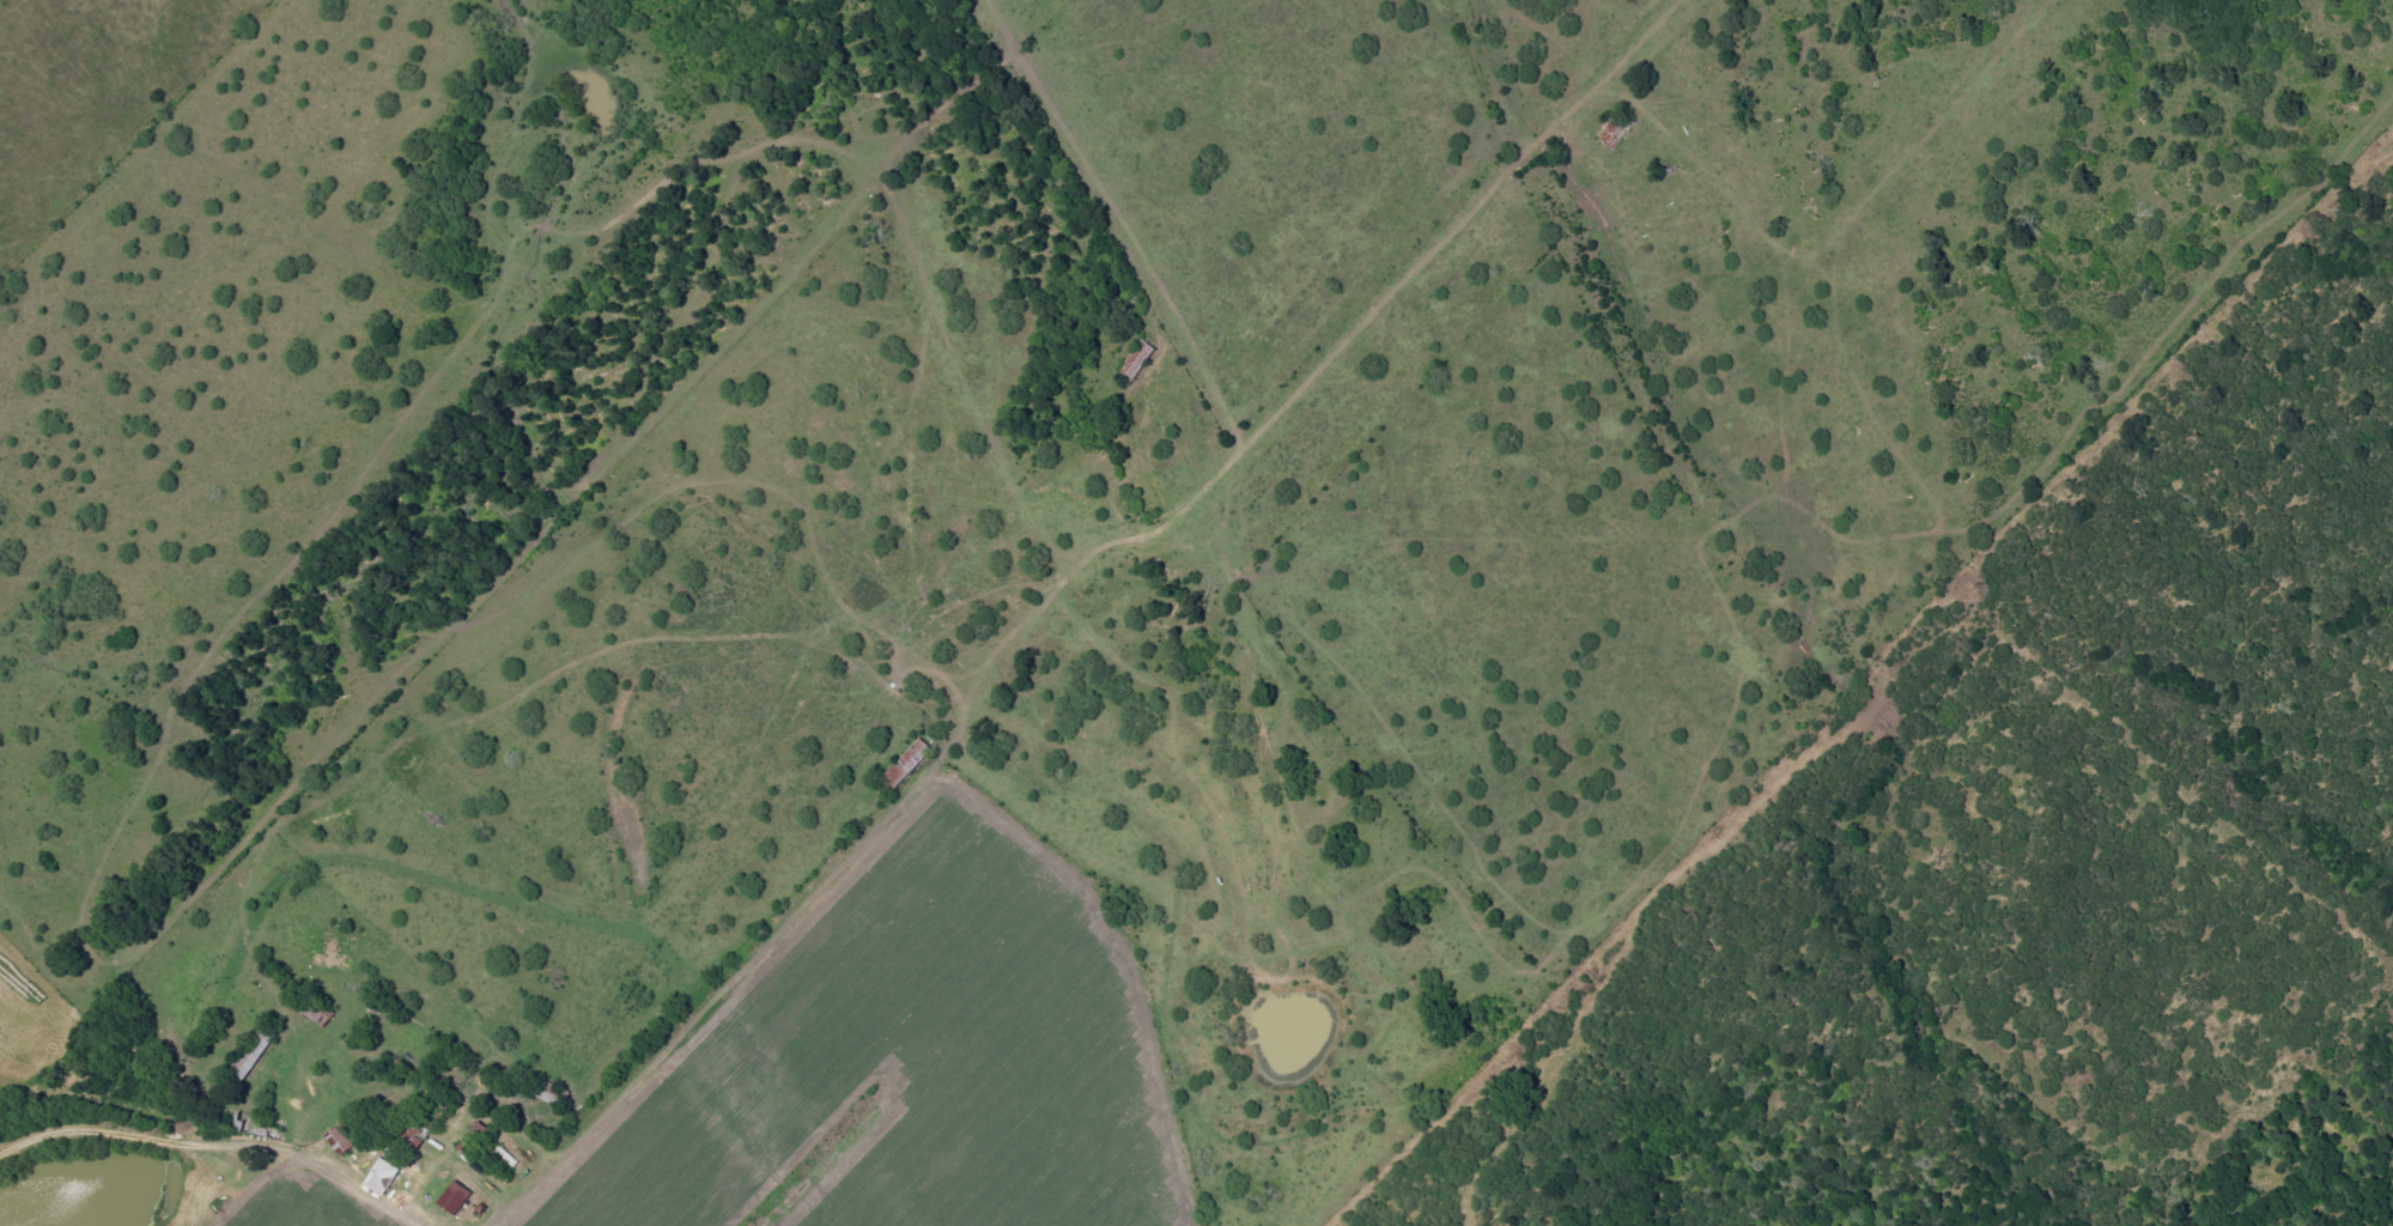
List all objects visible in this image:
building: (910, 764)
road: (729, 1009)
building: (342, 1141)
road: (214, 1152)
building: (383, 1178)
building: (457, 1198)

